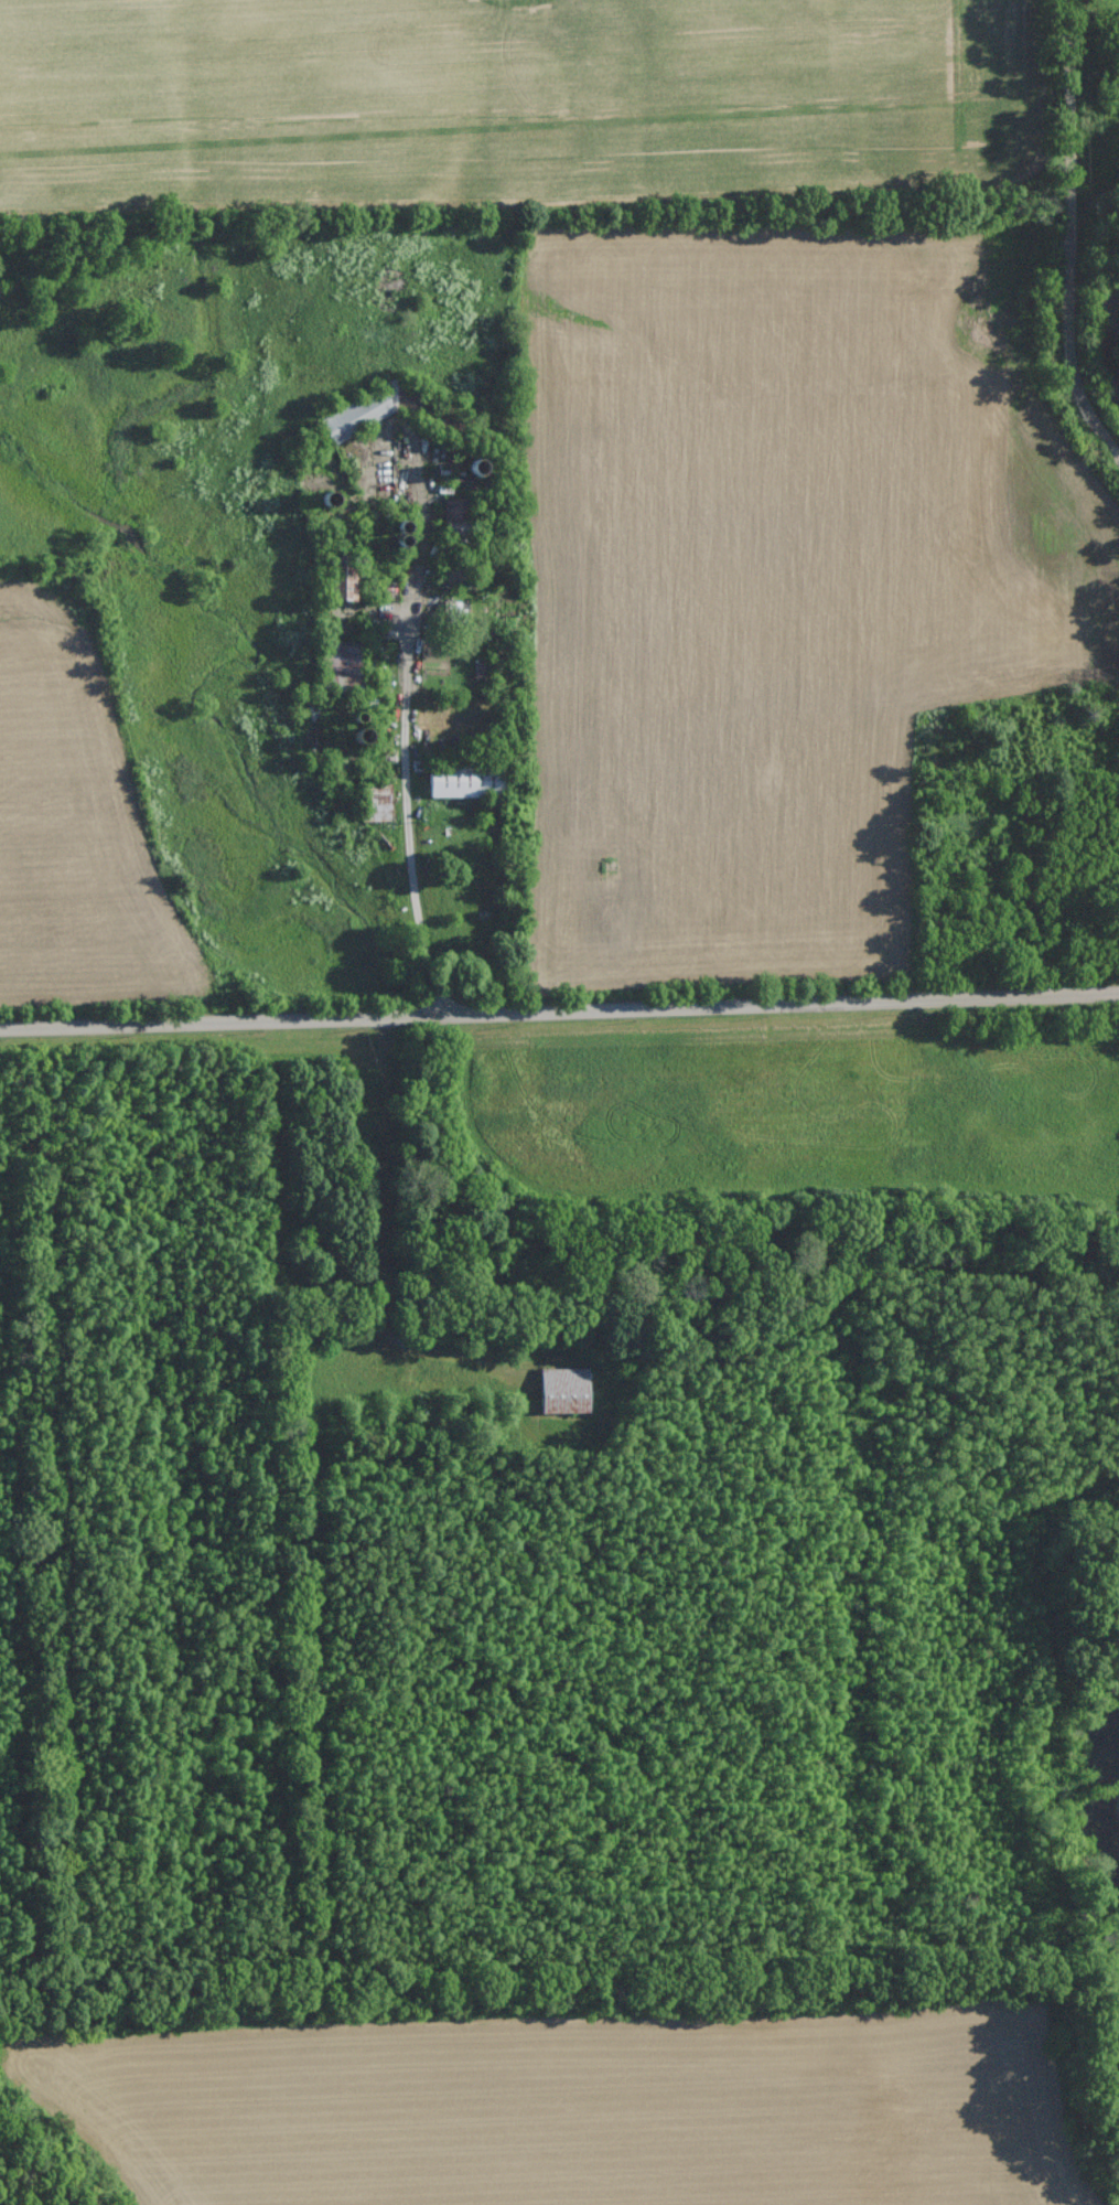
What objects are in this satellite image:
crop: (495, 98)
road: (1067, 235)
river: (1112, 350)
building: (357, 415)
building: (455, 507)
building: (344, 577)
building: (458, 606)
road: (406, 737)
building: (465, 782)
building: (377, 802)
road: (559, 1011)
road: (386, 1241)
building: (564, 1390)
river: (1100, 1805)

